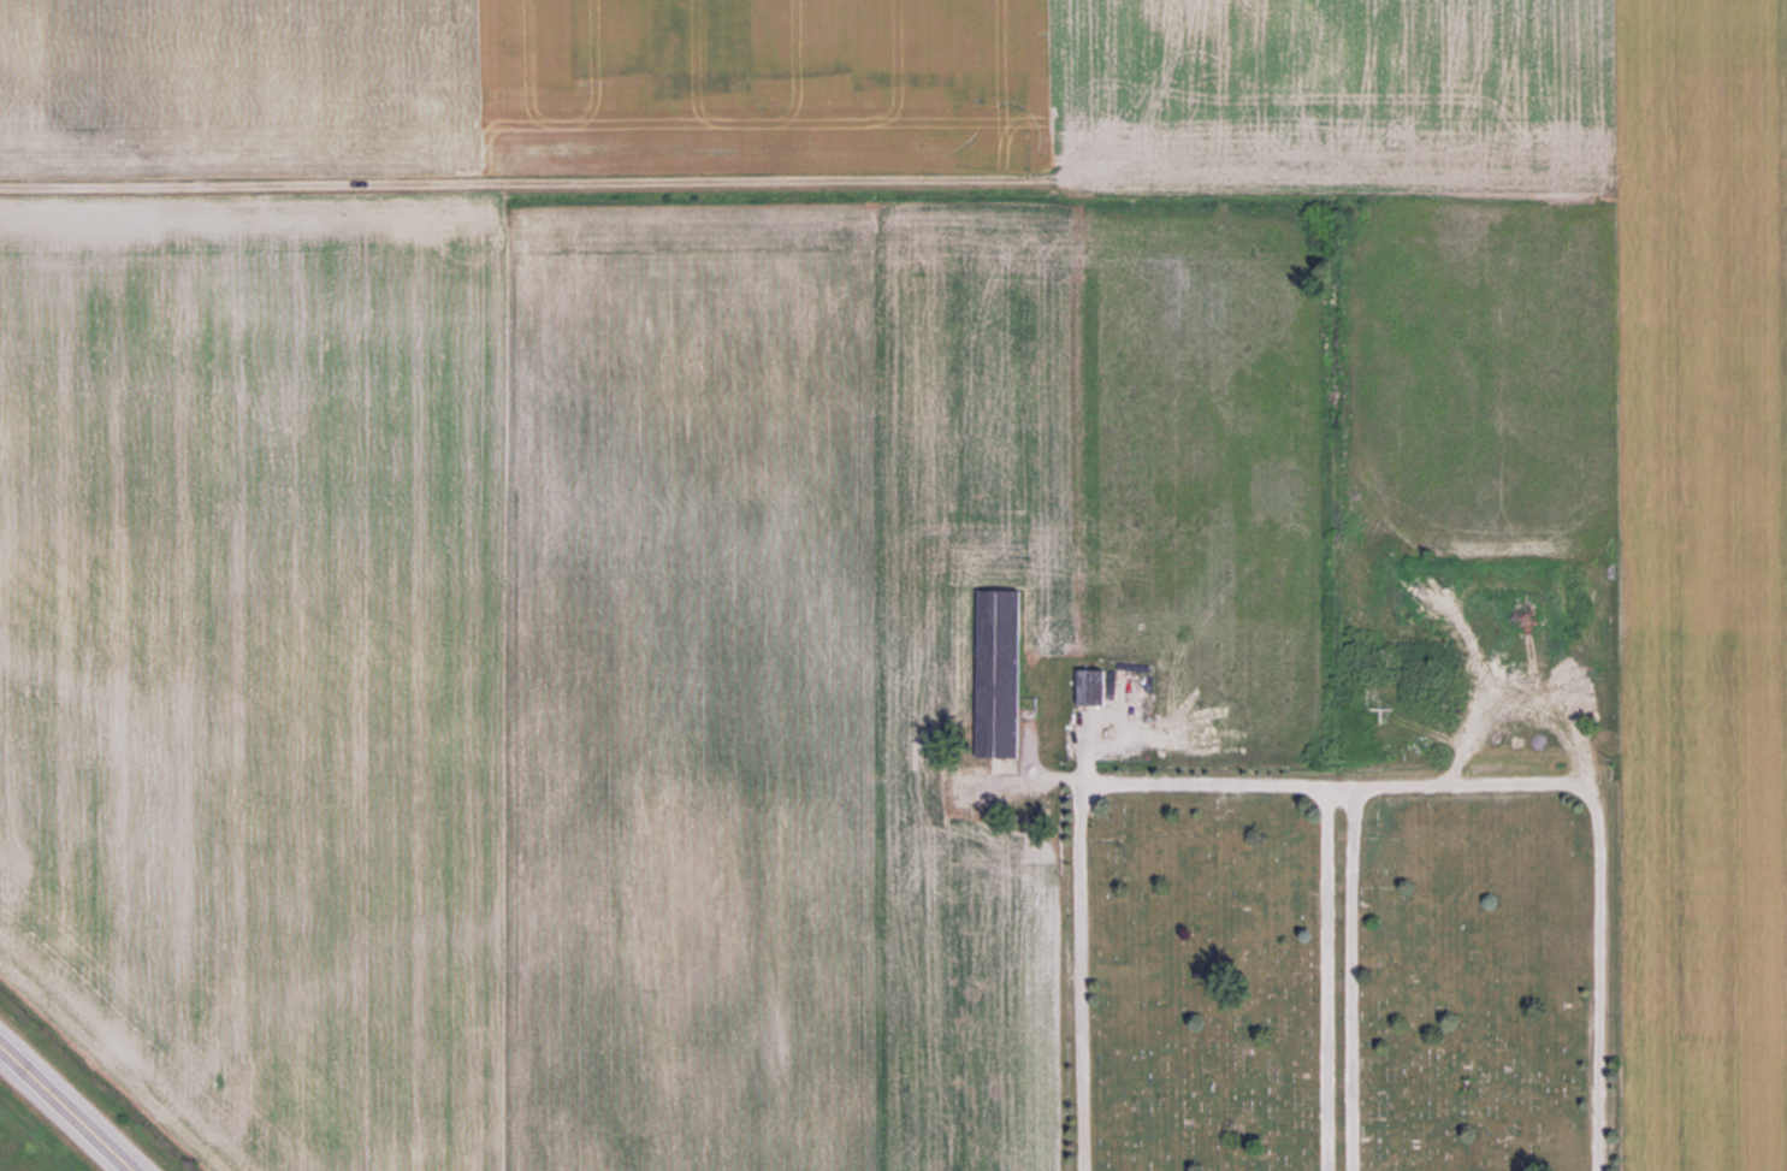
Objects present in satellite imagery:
road: (582, 194)
building: (1000, 679)
park: (1365, 904)
road: (1347, 981)
road: (69, 1107)

